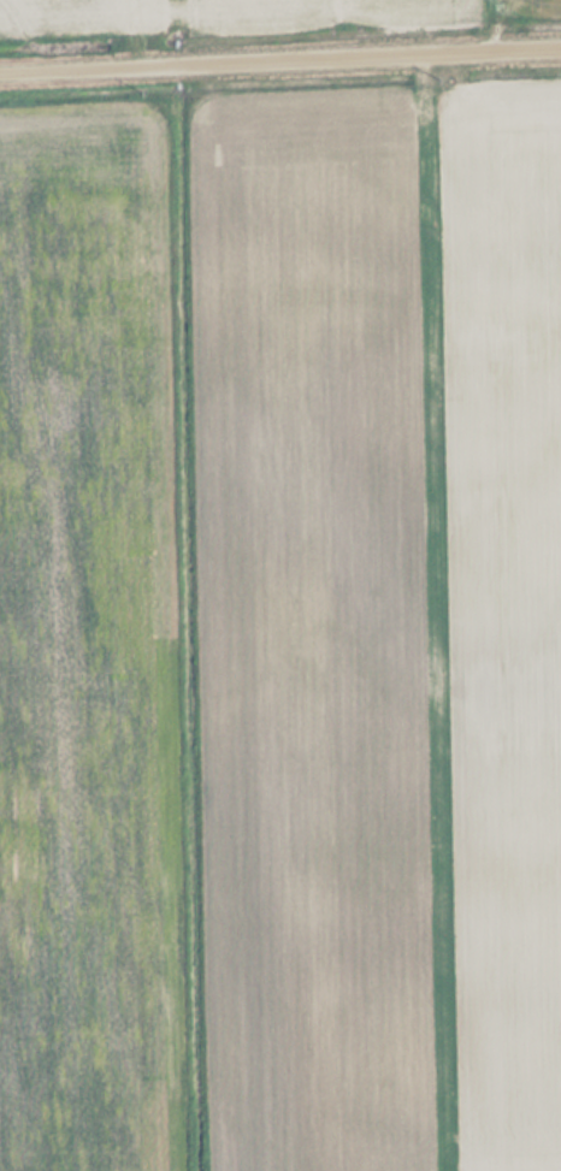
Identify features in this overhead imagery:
crop: (255, 24)
road: (279, 57)

